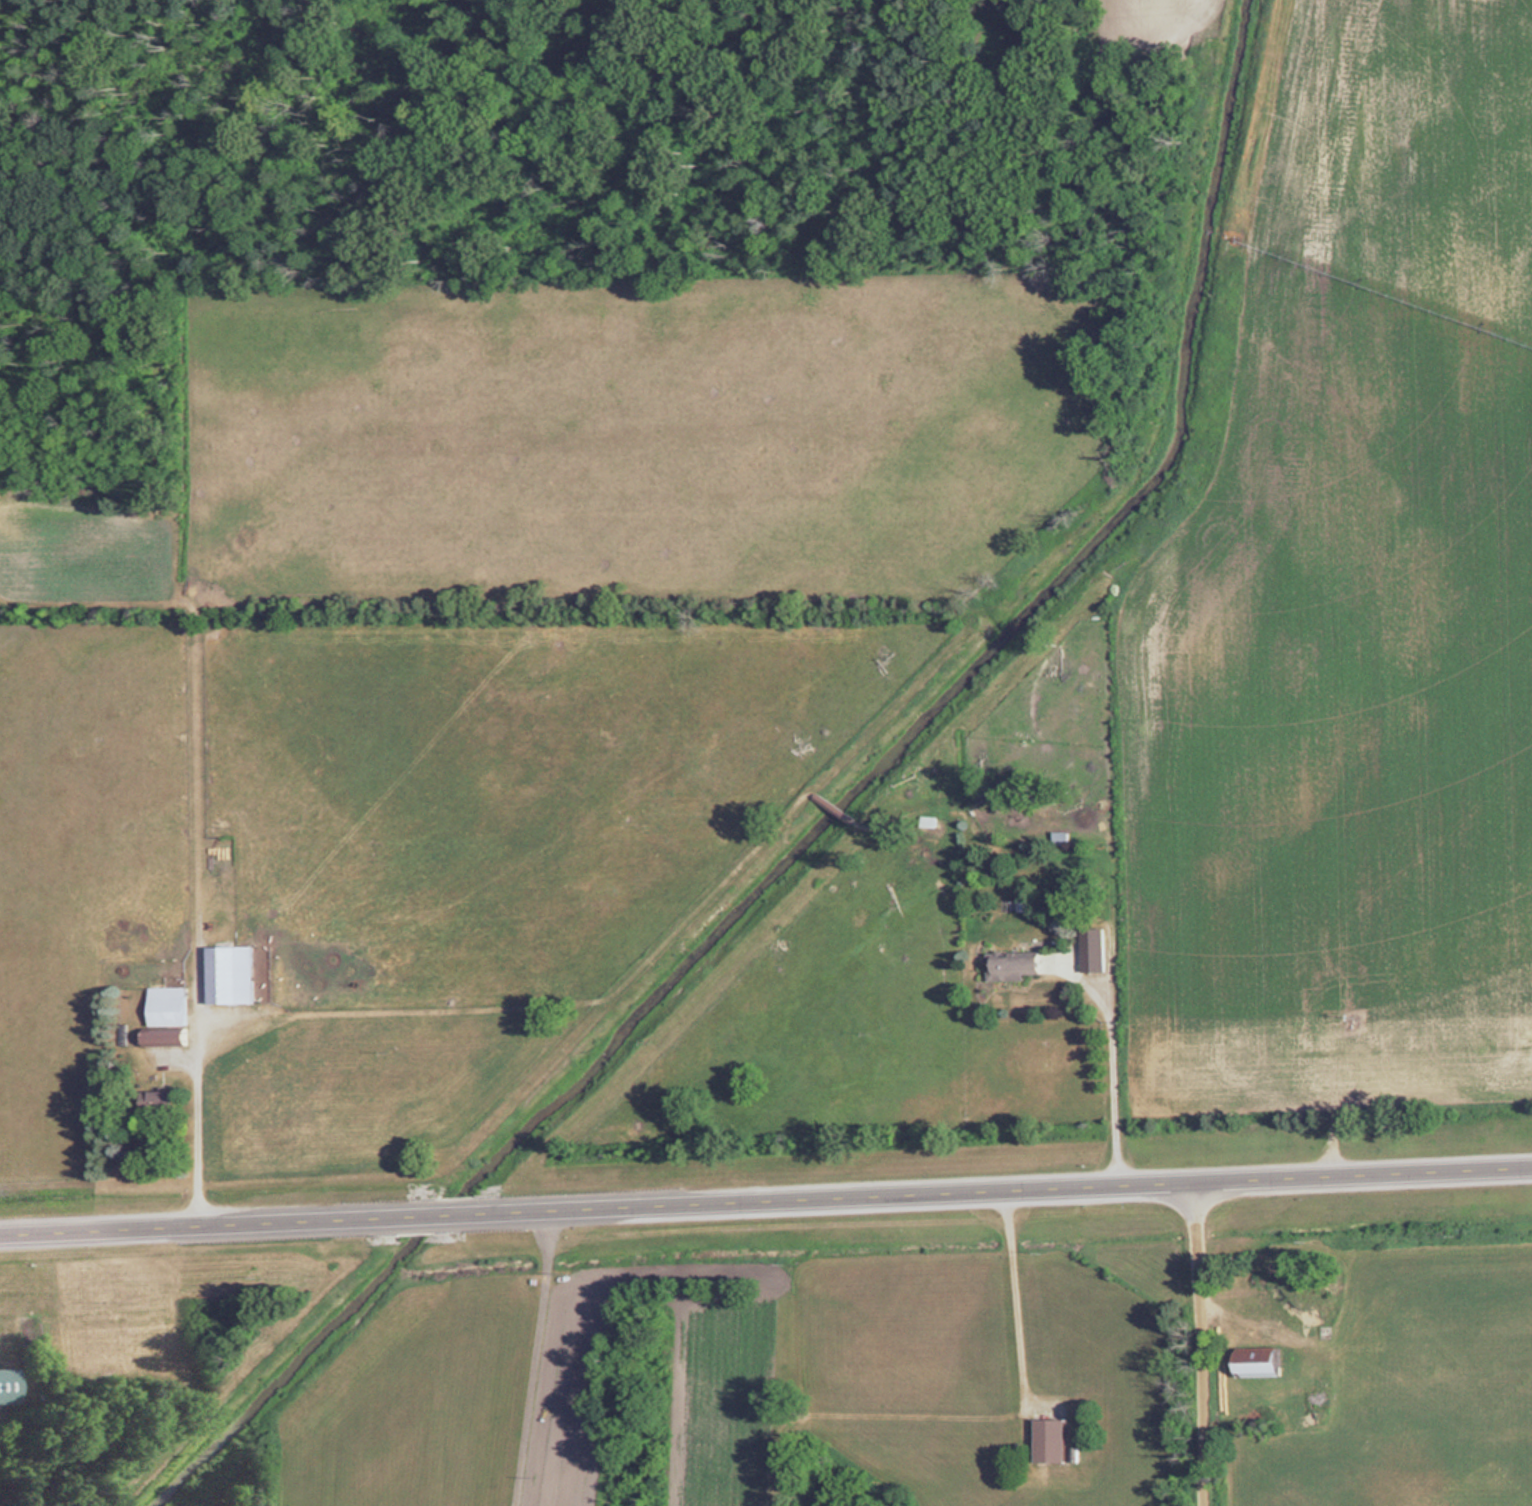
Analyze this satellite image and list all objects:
building: (1060, 837)
building: (1092, 950)
building: (1014, 967)
building: (231, 974)
building: (168, 1006)
building: (167, 1037)
road: (194, 1101)
road: (765, 1202)
road: (1199, 1344)
road: (533, 1359)
building: (1260, 1362)
building: (1050, 1440)

